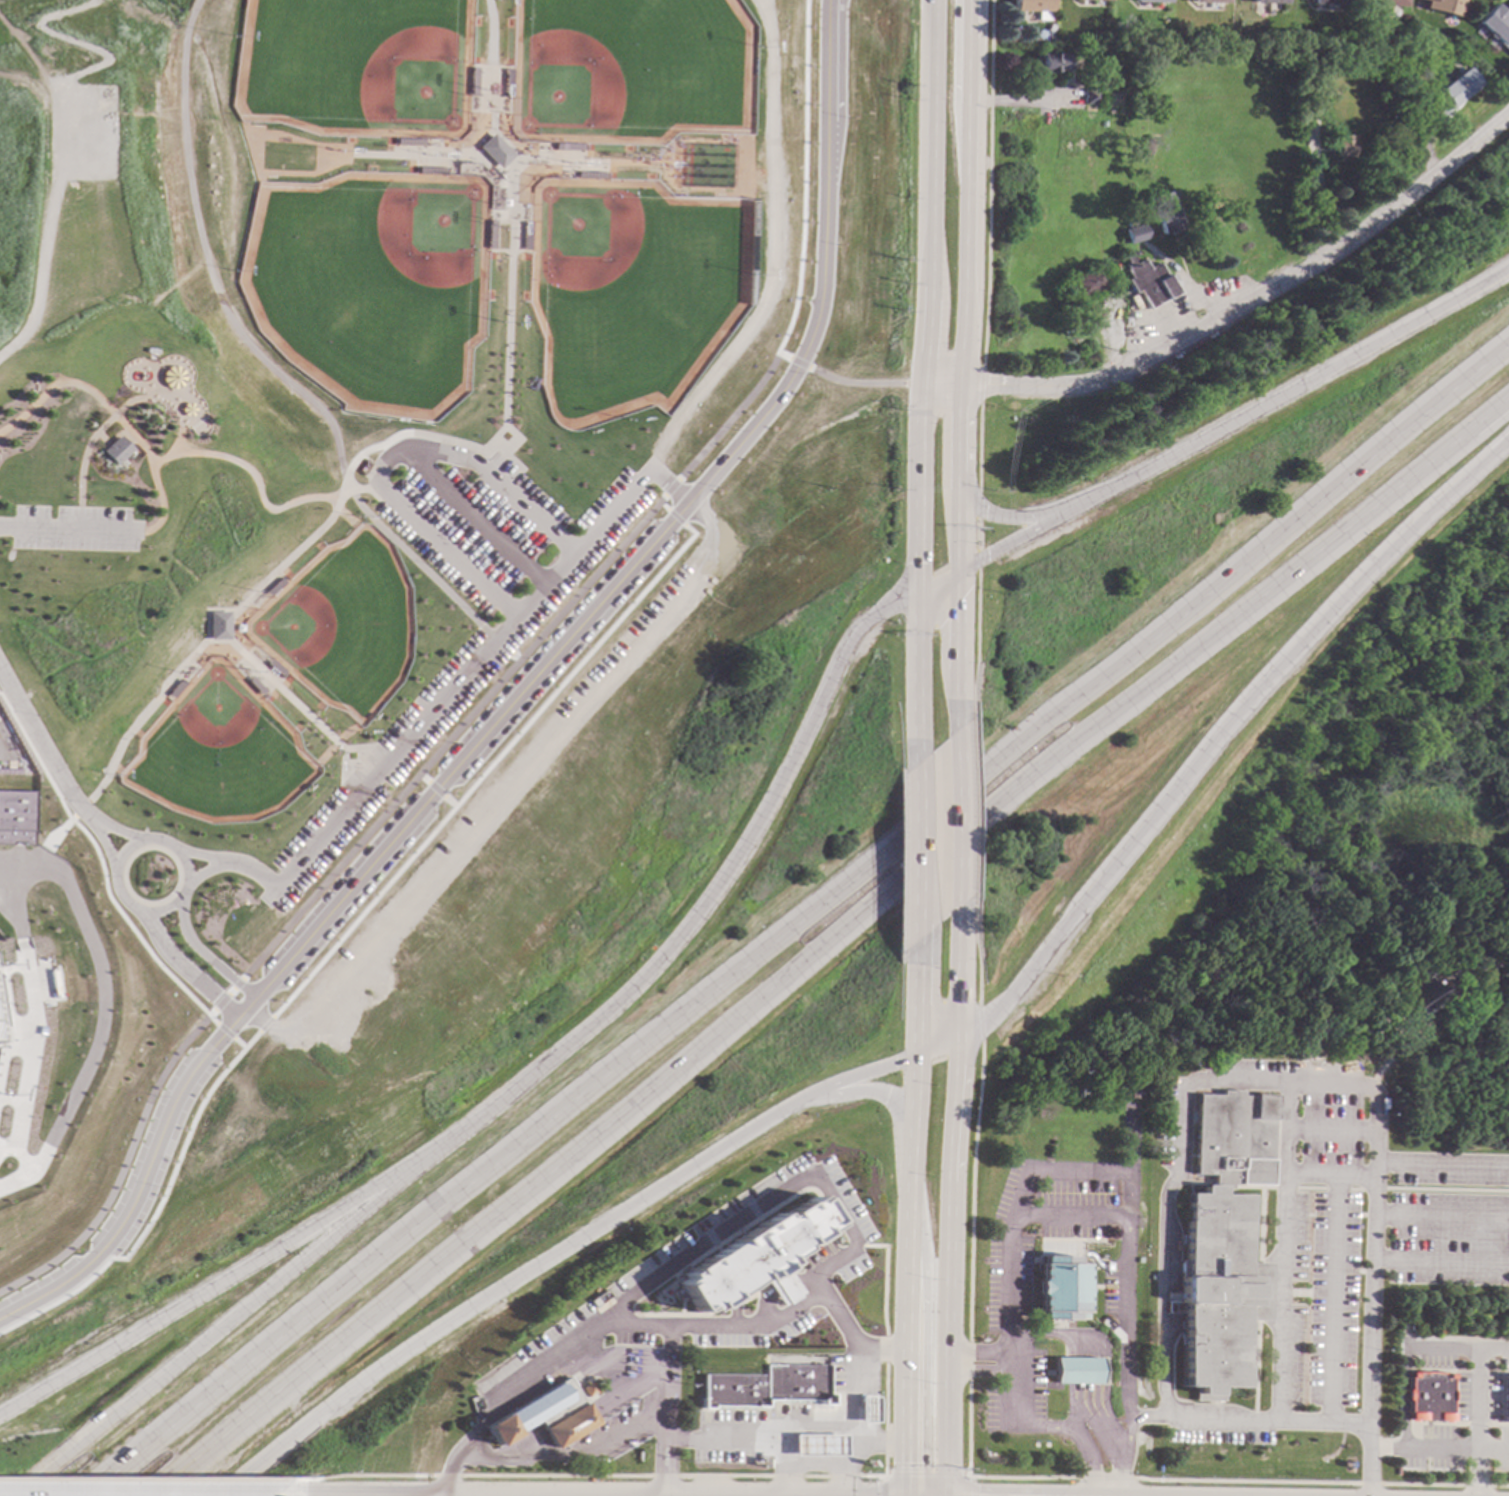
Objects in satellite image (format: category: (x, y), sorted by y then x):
building: (1095, 0)
building: (1151, 0)
building: (1210, 1)
building: (1269, 1)
building: (1327, 1)
building: (1388, 2)
building: (1443, 6)
building: (1031, 7)
building: (1495, 26)
building: (1046, 62)
park: (342, 68)
park: (618, 71)
building: (1103, 80)
road: (480, 86)
building: (1450, 92)
road: (832, 94)
building: (1089, 96)
road: (1022, 101)
building: (1310, 106)
building: (1342, 145)
building: (482, 153)
road: (317, 155)
road: (796, 177)
road: (1317, 190)
road: (33, 214)
building: (1165, 214)
building: (1133, 230)
road: (498, 233)
road: (762, 249)
road: (816, 273)
building: (1148, 281)
building: (1087, 282)
road: (967, 284)
park: (360, 287)
park: (619, 294)
road: (1238, 307)
road: (242, 351)
road: (798, 364)
road: (923, 373)
building: (154, 378)
road: (864, 384)
road: (1290, 391)
road: (734, 414)
road: (92, 419)
road: (104, 424)
building: (98, 451)
road: (157, 452)
road: (498, 455)
road: (487, 465)
road: (377, 466)
road: (503, 479)
road: (489, 485)
road: (667, 486)
road: (244, 487)
road: (670, 488)
road: (354, 489)
road: (662, 506)
traffic signals: (987, 512)
road: (675, 517)
road: (1010, 517)
road: (62, 518)
parking lot: (59, 529)
road: (59, 531)
road: (1015, 539)
road: (571, 554)
traffic signals: (988, 554)
traffic signals: (921, 563)
road: (590, 578)
road: (262, 580)
traffic signals: (960, 603)
building: (215, 626)
park: (335, 626)
road: (494, 640)
road: (960, 644)
road: (514, 658)
parking lot: (453, 684)
road: (294, 704)
road: (1210, 752)
road: (41, 754)
park: (214, 754)
road: (376, 757)
road: (344, 763)
road: (384, 764)
road: (423, 778)
road: (354, 783)
road: (435, 789)
road: (448, 802)
road: (76, 809)
building: (13, 818)
road: (379, 819)
road: (959, 824)
road: (54, 832)
road: (115, 832)
road: (102, 845)
road: (914, 853)
road: (199, 854)
road: (252, 869)
road: (99, 871)
road: (202, 872)
road: (113, 878)
road: (332, 910)
road: (800, 923)
road: (344, 931)
road: (828, 944)
road: (202, 954)
road: (183, 969)
road: (235, 984)
road: (228, 993)
building: (1419, 999)
road: (219, 1003)
road: (912, 1008)
road: (222, 1031)
building: (2, 1033)
road: (236, 1043)
road: (538, 1066)
road: (1333, 1084)
road: (875, 1092)
building: (1130, 1093)
road: (1284, 1128)
road: (1328, 1132)
road: (1129, 1157)
road: (121, 1163)
road: (1440, 1164)
road: (1283, 1178)
road: (1020, 1201)
road: (949, 1211)
road: (835, 1212)
road: (1441, 1216)
parking lot: (1364, 1223)
building: (1221, 1239)
road: (558, 1258)
building: (756, 1258)
road: (1441, 1260)
road: (908, 1276)
road: (1014, 1285)
building: (1060, 1288)
road: (199, 1297)
road: (1165, 1297)
road: (1329, 1298)
road: (1127, 1316)
road: (847, 1335)
road: (667, 1348)
road: (1013, 1359)
road: (1084, 1359)
road: (980, 1363)
building: (1075, 1371)
road: (521, 1379)
road: (667, 1380)
building: (766, 1386)
road: (1013, 1396)
building: (1428, 1397)
building: (1507, 1400)
building: (867, 1409)
building: (544, 1414)
road: (1077, 1417)
road: (1220, 1418)
road: (1074, 1434)
road: (466, 1440)
building: (818, 1445)
gas station: (818, 1445)
road: (1442, 1448)
road: (1367, 1458)
road: (785, 1462)
traffic signals: (905, 1463)
road: (925, 1473)
road: (446, 1474)
road: (587, 1476)
road: (968, 1476)
road: (785, 1479)
road: (841, 1479)
road: (144, 1480)
road: (878, 1486)
road: (971, 1486)

